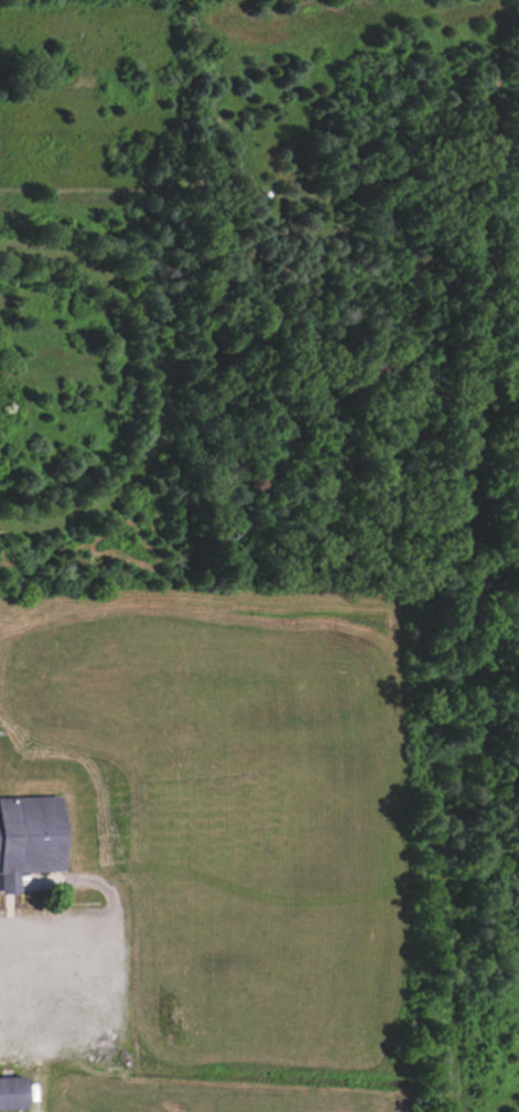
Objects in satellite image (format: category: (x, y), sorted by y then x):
building: (28, 838)
road: (14, 940)
building: (11, 1092)

